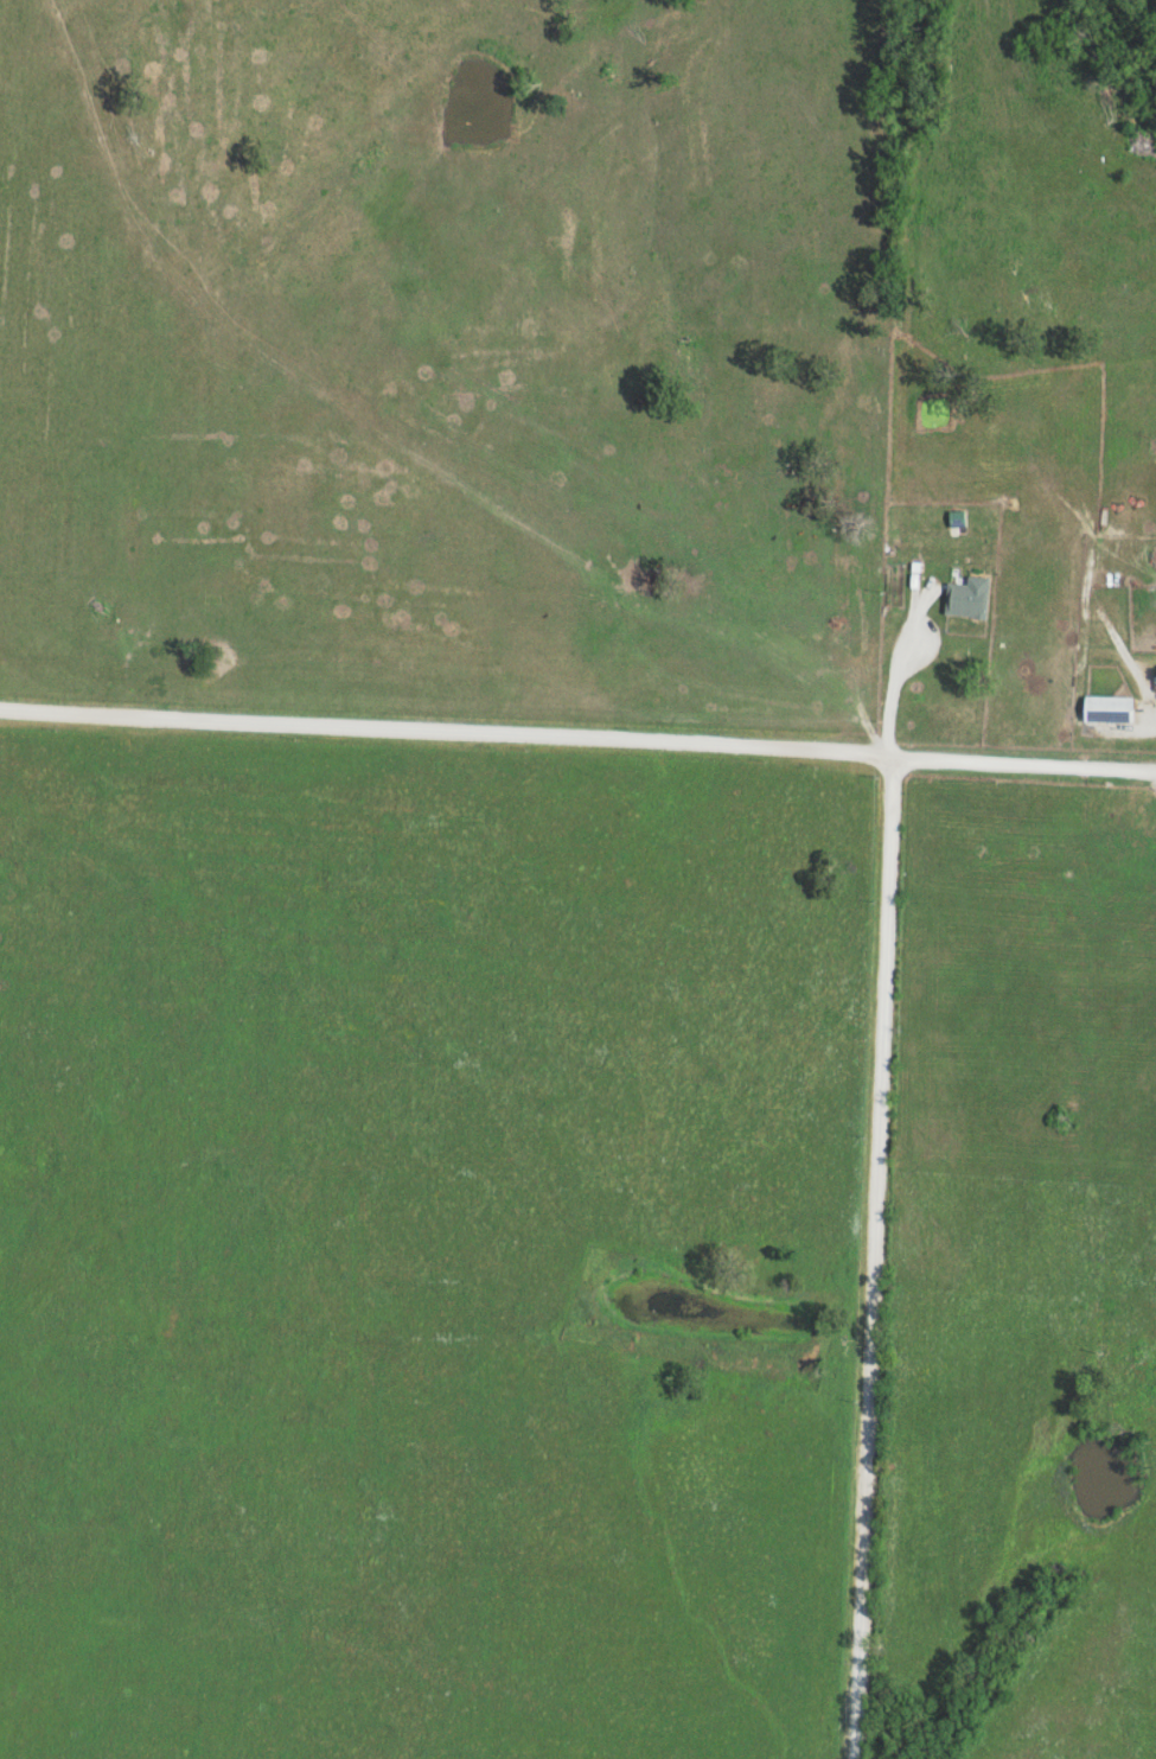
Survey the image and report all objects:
road: (595, 329)
building: (970, 597)
road: (899, 670)
building: (1110, 708)
road: (577, 732)
road: (871, 1254)

